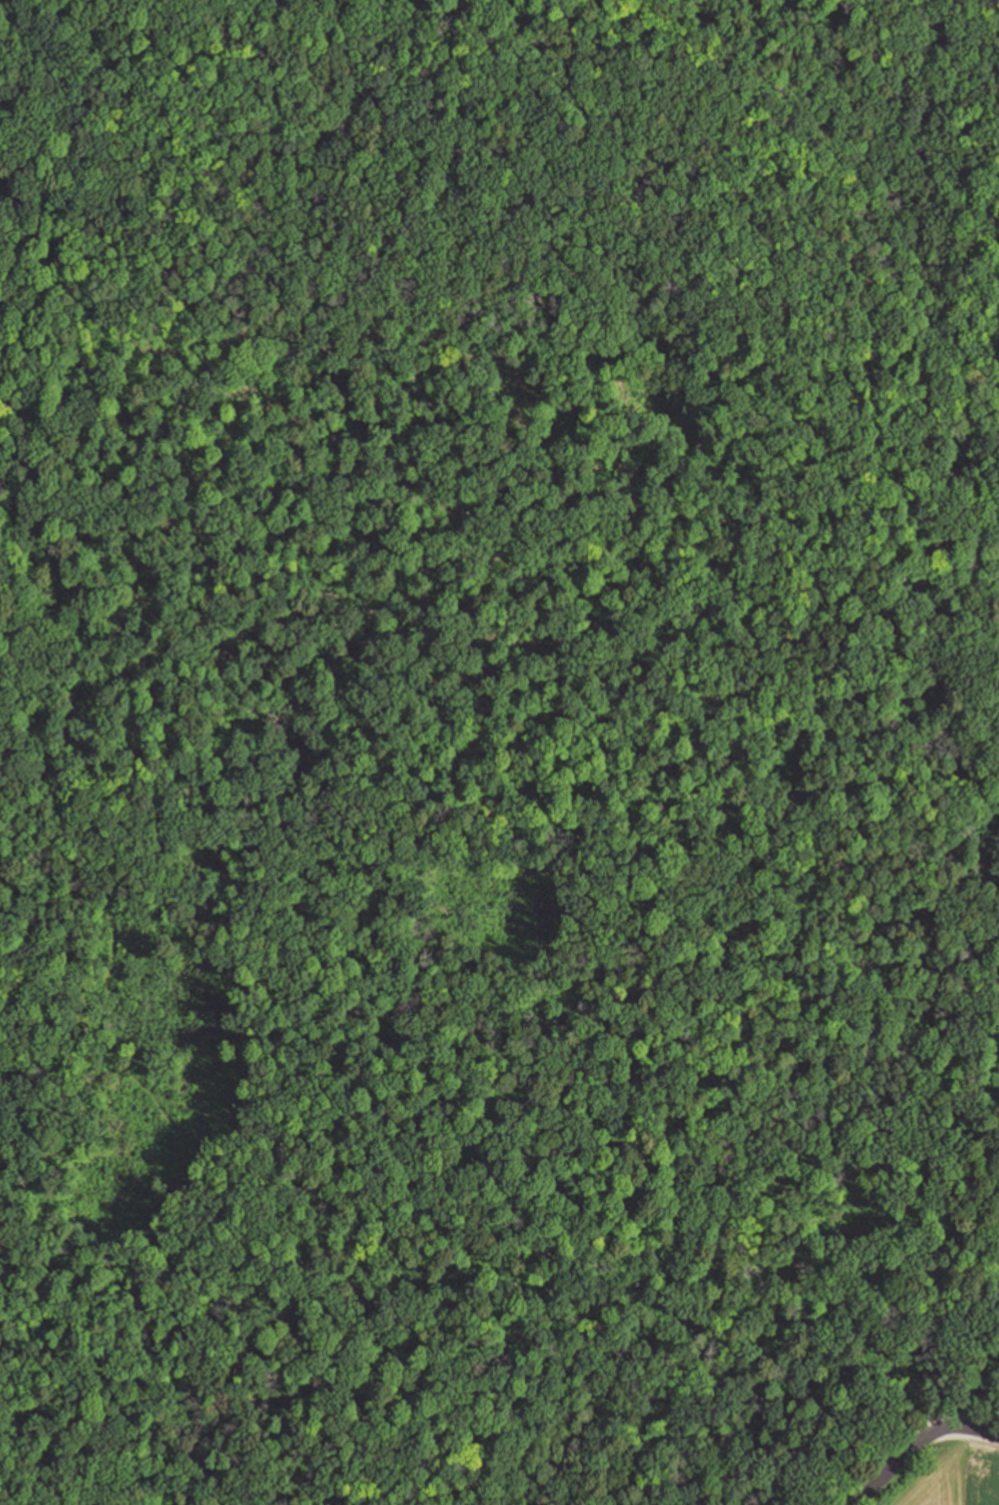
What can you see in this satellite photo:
road: (88, 918)
road: (919, 1444)

